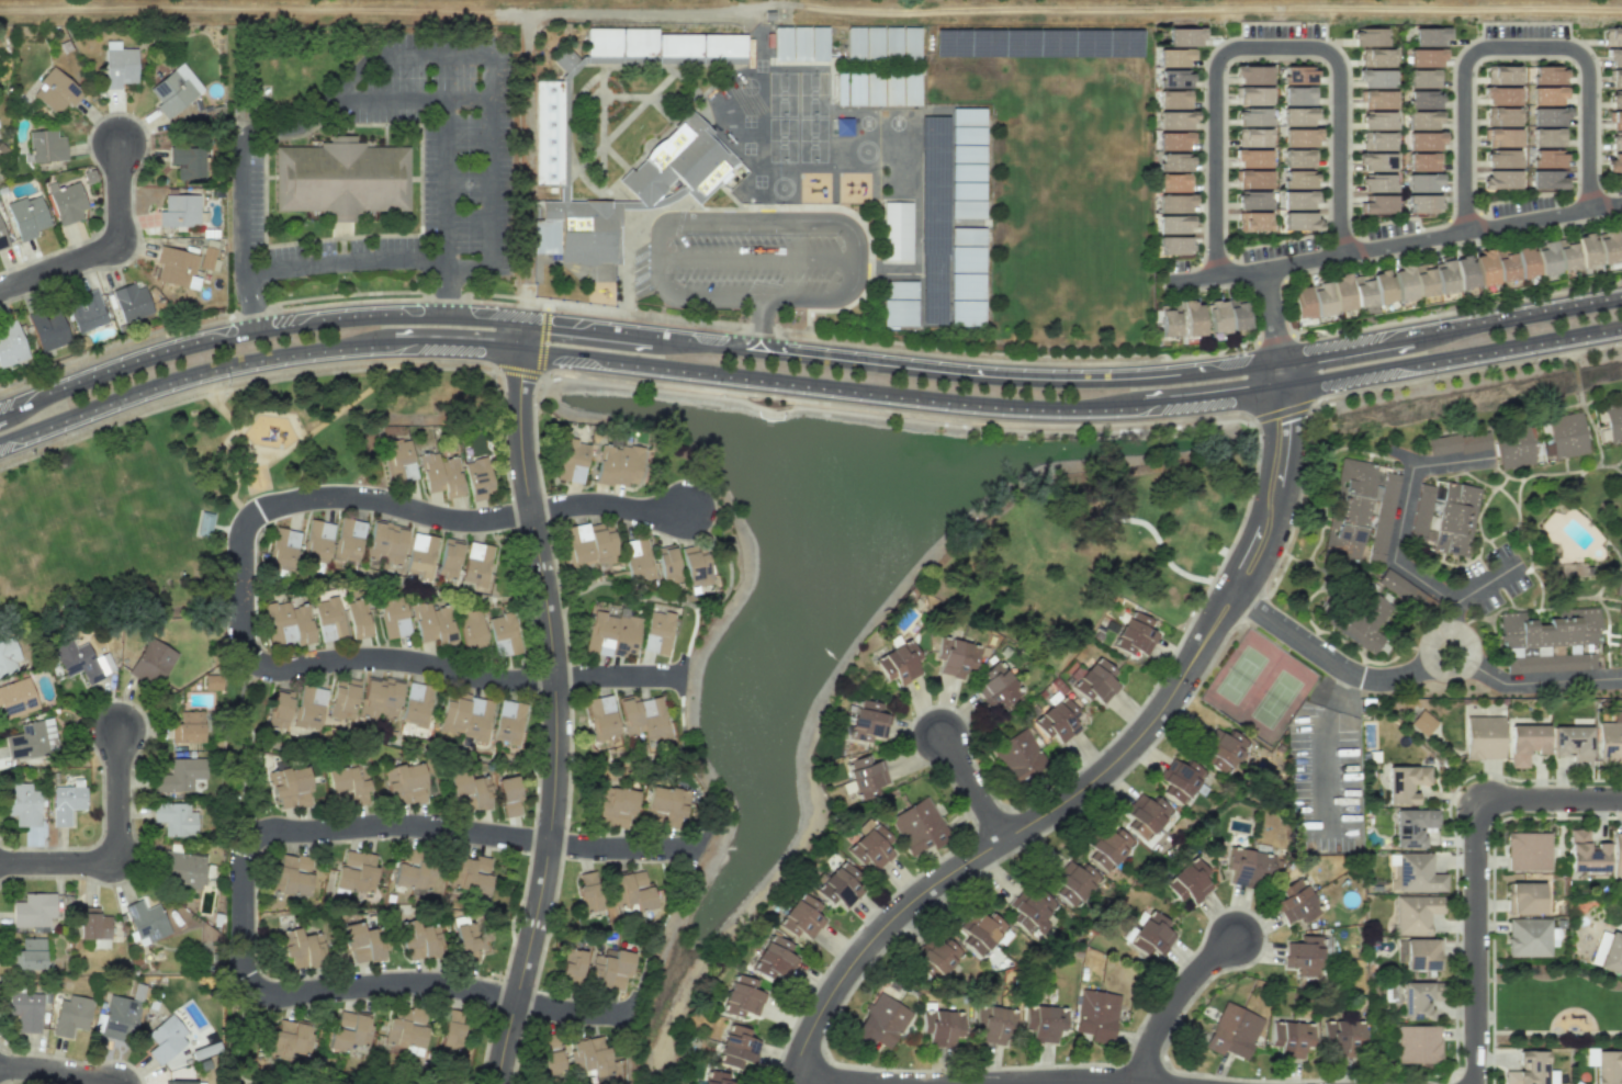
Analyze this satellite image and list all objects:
road: (1185, 10)
road: (269, 12)
parking lot: (1283, 30)
parking lot: (1524, 31)
building: (1430, 36)
building: (1612, 36)
building: (1183, 37)
building: (1368, 37)
road: (527, 39)
building: (607, 43)
building: (641, 43)
building: (667, 43)
building: (686, 43)
building: (706, 43)
building: (724, 44)
road: (1264, 46)
road: (1513, 46)
building: (861, 50)
building: (788, 52)
building: (880, 52)
building: (898, 52)
building: (916, 52)
building: (807, 53)
building: (824, 53)
road: (450, 55)
building: (1173, 57)
building: (1376, 57)
building: (1424, 58)
road: (1519, 58)
building: (1614, 58)
building: (568, 59)
building: (119, 65)
building: (1252, 75)
building: (1298, 75)
building: (1501, 75)
building: (1547, 75)
building: (1174, 78)
building: (1615, 78)
building: (1375, 79)
building: (1422, 79)
building: (174, 90)
building: (55, 91)
road: (392, 95)
building: (1253, 95)
building: (1298, 95)
building: (1500, 95)
building: (1545, 95)
building: (861, 97)
building: (880, 97)
building: (898, 98)
building: (917, 98)
building: (1174, 99)
road: (488, 100)
building: (1377, 100)
building: (1422, 100)
building: (1615, 100)
road: (314, 113)
building: (1297, 116)
building: (1501, 116)
building: (1548, 116)
building: (1252, 117)
building: (1175, 120)
building: (1420, 120)
building: (1377, 121)
building: (1615, 121)
building: (554, 134)
building: (1252, 137)
building: (1299, 137)
building: (1502, 137)
building: (1547, 137)
building: (1377, 140)
building: (1423, 142)
building: (1615, 142)
building: (45, 146)
building: (1251, 158)
building: (1298, 158)
building: (1501, 159)
building: (1547, 159)
building: (1175, 161)
building: (1375, 161)
building: (1422, 161)
building: (1614, 161)
building: (187, 162)
building: (687, 166)
building: (340, 179)
building: (1252, 179)
building: (1298, 179)
building: (1500, 179)
building: (1546, 180)
building: (1174, 182)
building: (1420, 182)
building: (1376, 183)
parking lot: (466, 185)
parking lot: (1618, 187)
building: (821, 193)
building: (1252, 200)
building: (1297, 200)
building: (66, 202)
building: (1174, 204)
building: (1377, 204)
parking lot: (1521, 204)
building: (179, 211)
building: (26, 216)
building: (1299, 221)
building: (1252, 222)
road: (745, 223)
building: (1174, 224)
road: (1482, 225)
parking lot: (1390, 228)
building: (896, 230)
building: (587, 233)
building: (2, 239)
road: (1396, 242)
building: (1174, 246)
building: (1600, 247)
parking lot: (1277, 248)
road: (104, 249)
building: (1566, 253)
building: (206, 258)
building: (1545, 258)
building: (1503, 266)
parking lot: (735, 267)
building: (176, 268)
road: (275, 270)
building: (1453, 274)
building: (1422, 280)
building: (1401, 283)
road: (446, 286)
building: (1382, 286)
building: (1362, 291)
building: (1341, 293)
building: (608, 296)
building: (1321, 298)
building: (131, 302)
road: (526, 302)
road: (1283, 302)
building: (1302, 302)
road: (250, 303)
building: (86, 312)
road: (1270, 313)
building: (1226, 316)
building: (1192, 318)
building: (1168, 320)
road: (762, 325)
road: (593, 328)
building: (47, 329)
road: (256, 329)
road: (523, 334)
road: (448, 338)
building: (10, 346)
street lamp: (1242, 349)
road: (584, 354)
road: (181, 373)
road: (1142, 375)
road: (1136, 404)
building: (1613, 419)
building: (1567, 432)
building: (1513, 442)
building: (1457, 443)
building: (398, 460)
building: (571, 461)
building: (616, 465)
building: (440, 475)
building: (477, 478)
park: (195, 488)
building: (1360, 510)
road: (425, 513)
building: (1443, 518)
building: (204, 520)
building: (347, 540)
building: (316, 542)
building: (385, 543)
building: (588, 544)
park: (1096, 545)
road: (1395, 547)
building: (282, 549)
building: (419, 555)
building: (448, 557)
building: (639, 561)
building: (666, 563)
building: (476, 565)
building: (695, 565)
road: (393, 581)
building: (1618, 585)
road: (686, 605)
building: (1619, 607)
building: (359, 612)
building: (392, 612)
road: (1451, 616)
building: (327, 618)
building: (1362, 620)
building: (277, 621)
building: (302, 622)
building: (423, 623)
building: (443, 623)
building: (599, 632)
building: (658, 632)
building: (473, 633)
building: (627, 634)
building: (1551, 634)
building: (1135, 635)
building: (505, 636)
building: (1619, 644)
road: (1469, 650)
building: (9, 656)
building: (954, 656)
road: (1325, 658)
building: (81, 660)
building: (151, 663)
building: (898, 663)
road: (430, 667)
park: (1240, 674)
road: (1541, 680)
building: (212, 681)
building: (1094, 681)
building: (994, 686)
building: (369, 693)
building: (16, 698)
park: (1275, 698)
building: (342, 699)
building: (390, 699)
building: (417, 703)
building: (309, 707)
building: (280, 709)
building: (453, 713)
building: (632, 714)
road: (554, 716)
building: (601, 716)
building: (478, 718)
building: (653, 718)
building: (1057, 720)
building: (508, 722)
building: (867, 722)
building: (1422, 723)
building: (187, 727)
building: (1483, 735)
building: (1610, 738)
building: (31, 739)
road: (361, 739)
building: (1523, 741)
building: (1572, 742)
road: (1323, 750)
building: (1223, 752)
building: (1017, 756)
road: (621, 766)
road: (690, 766)
road: (1107, 769)
building: (179, 775)
building: (864, 777)
parking lot: (1323, 779)
street lamp: (1508, 779)
building: (1181, 781)
building: (1406, 781)
building: (404, 784)
building: (347, 786)
building: (290, 787)
road: (971, 788)
road: (117, 793)
building: (466, 793)
building: (508, 794)
building: (22, 803)
building: (65, 803)
building: (612, 806)
street lamp: (1610, 813)
building: (1145, 816)
building: (174, 818)
building: (1413, 824)
building: (917, 826)
road: (425, 827)
building: (870, 845)
building: (1108, 848)
building: (1528, 849)
building: (1585, 851)
building: (1617, 851)
road: (56, 863)
building: (1247, 867)
building: (414, 869)
building: (187, 870)
building: (356, 871)
building: (1419, 871)
road: (1473, 872)
building: (470, 874)
building: (289, 876)
building: (1187, 882)
building: (1072, 883)
building: (838, 884)
building: (630, 890)
building: (587, 891)
building: (1523, 895)
building: (1296, 902)
building: (33, 911)
building: (1030, 911)
building: (1417, 911)
building: (801, 917)
building: (146, 922)
building: (92, 924)
building: (980, 931)
building: (1148, 935)
building: (1528, 936)
building: (465, 938)
building: (418, 940)
building: (361, 944)
building: (301, 949)
building: (1611, 952)
building: (1424, 953)
building: (29, 955)
building: (1304, 956)
building: (774, 958)
building: (935, 959)
building: (571, 964)
building: (609, 969)
road: (246, 970)
street lamp: (1490, 979)
road: (443, 985)
building: (741, 997)
street lamp: (847, 998)
building: (1418, 1000)
road: (1172, 1003)
park: (1552, 1004)
building: (25, 1010)
building: (119, 1015)
building: (1095, 1015)
building: (70, 1016)
building: (881, 1021)
building: (1043, 1021)
building: (992, 1024)
building: (940, 1027)
building: (405, 1029)
building: (451, 1030)
building: (1235, 1030)
building: (349, 1031)
building: (1343, 1035)
building: (1291, 1037)
building: (166, 1039)
building: (290, 1039)
building: (1419, 1043)
building: (736, 1047)
building: (589, 1057)
building: (551, 1061)
building: (1607, 1066)
building: (1528, 1068)
road: (48, 1070)
building: (717, 1077)
road: (825, 1080)
building: (182, 1082)

